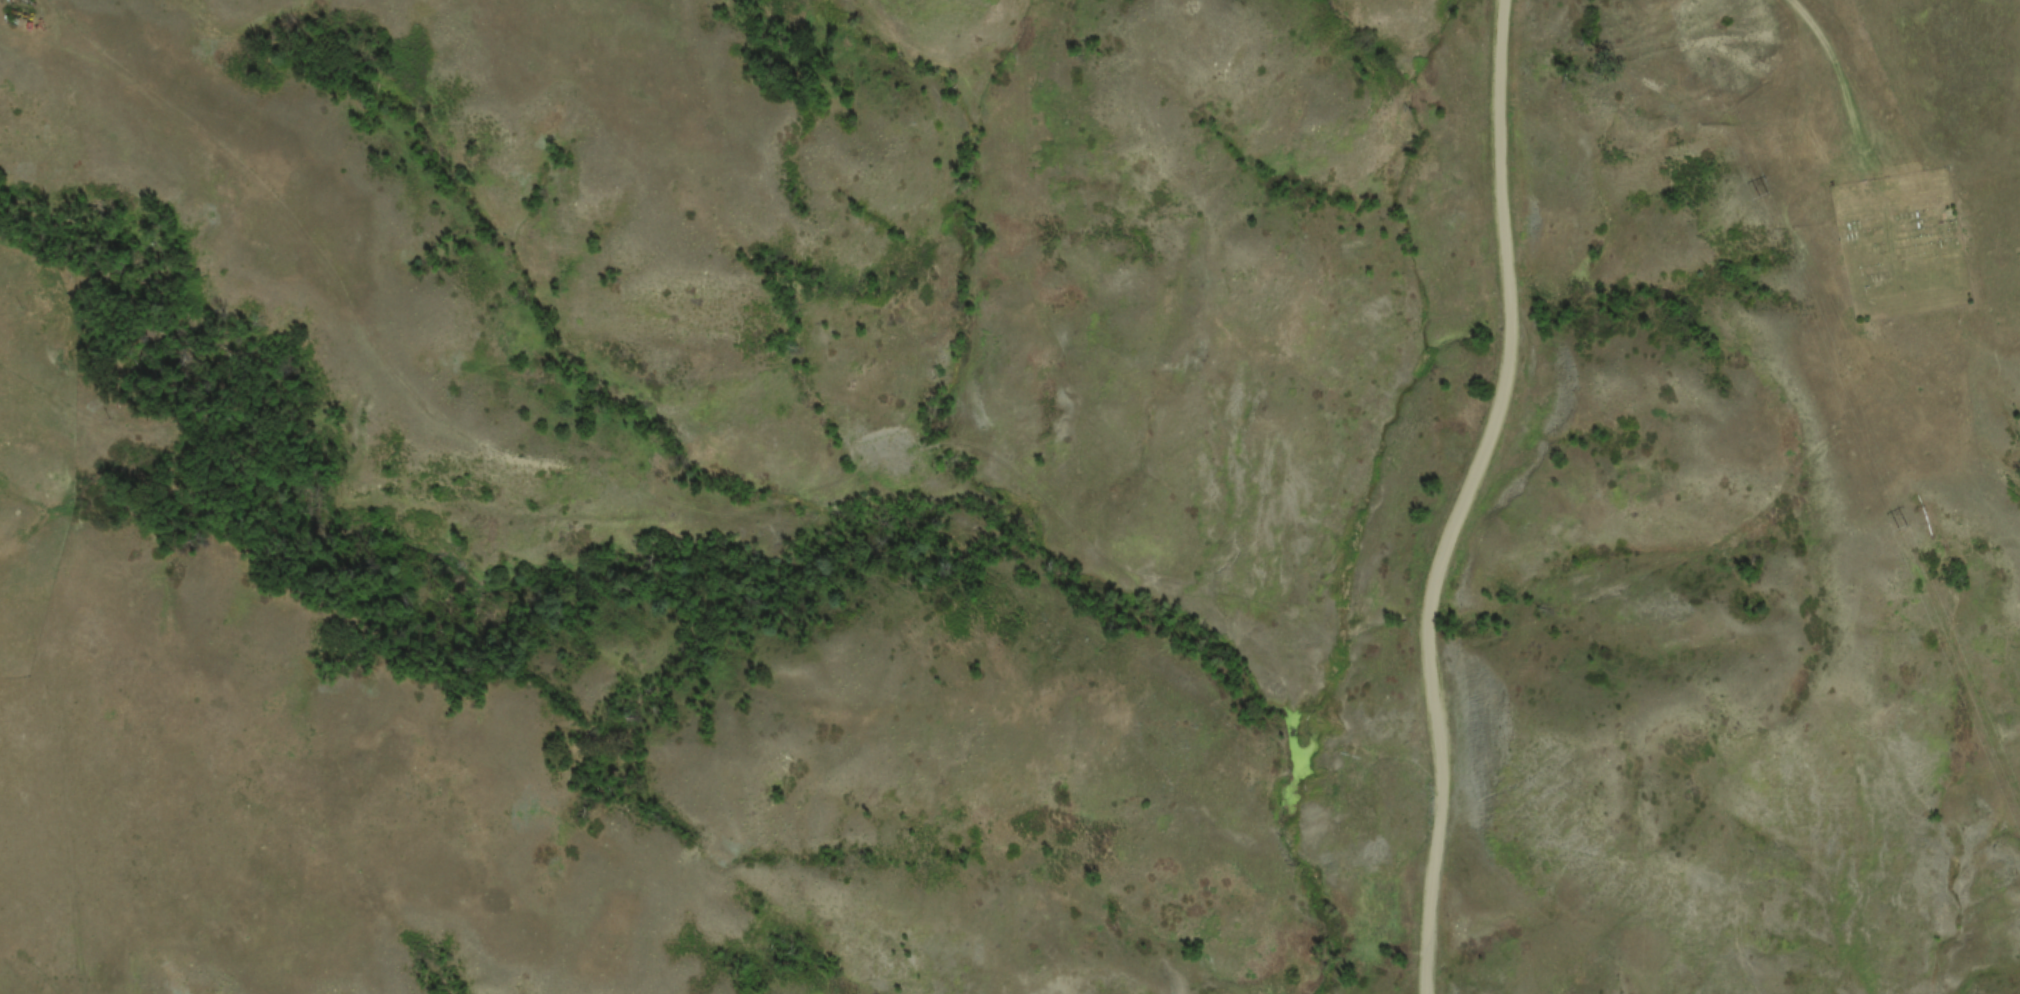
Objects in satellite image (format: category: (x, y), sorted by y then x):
power tower: (1766, 197)
road: (1465, 496)
power tower: (1904, 529)

